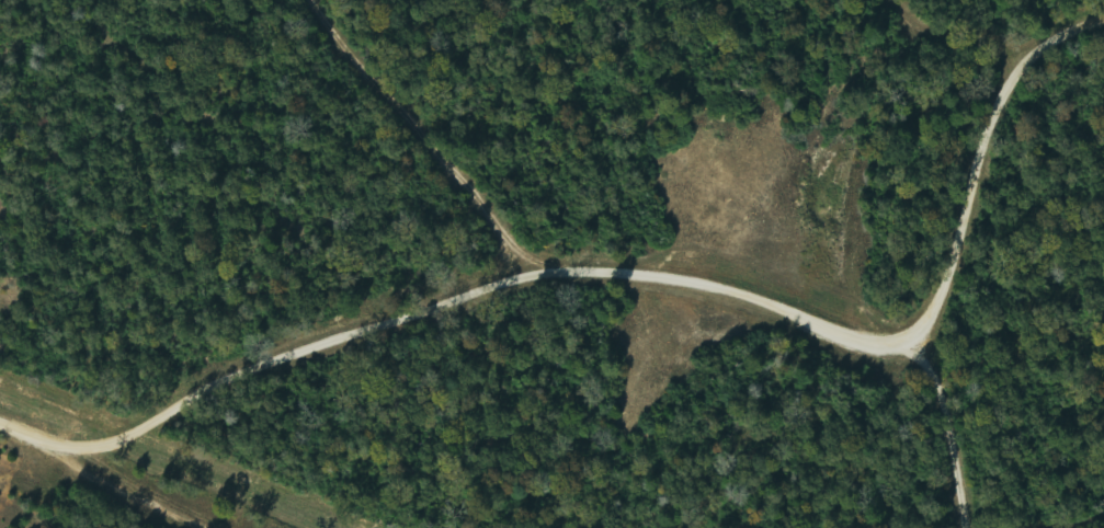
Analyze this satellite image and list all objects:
road: (941, 275)
road: (448, 307)

